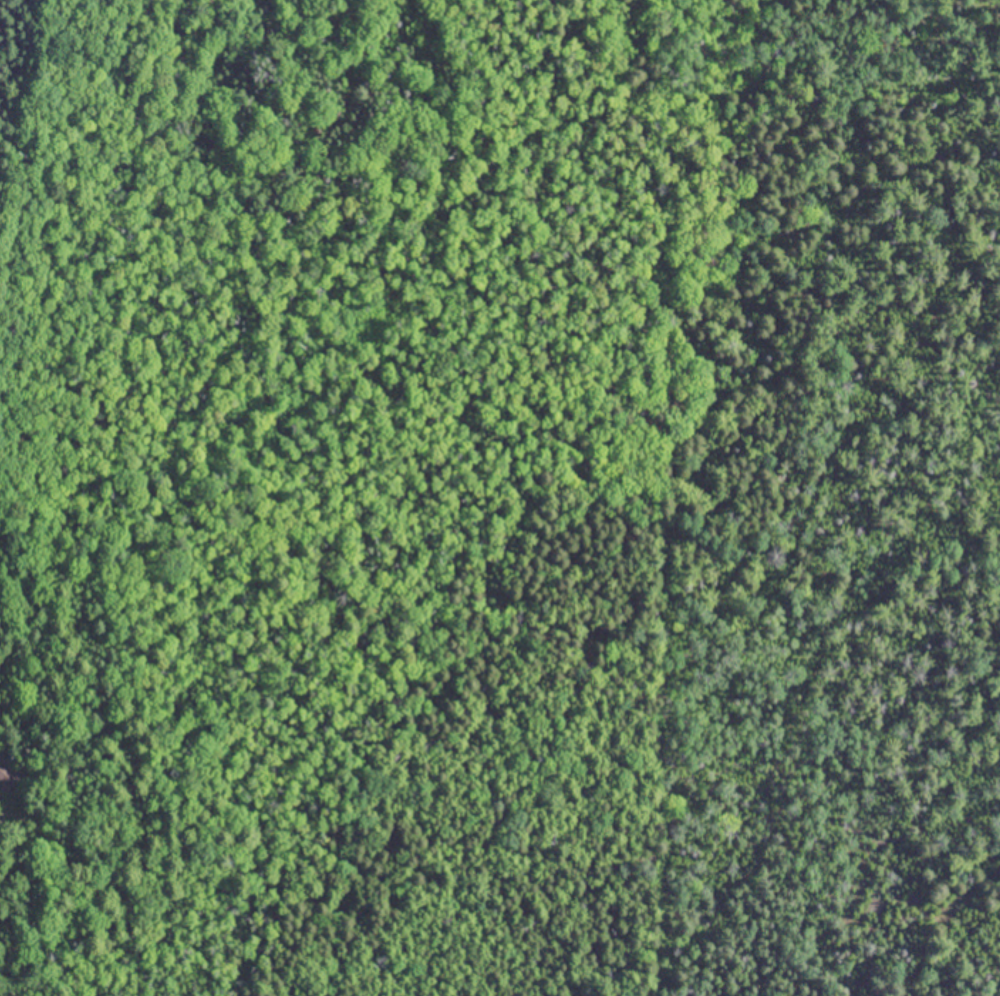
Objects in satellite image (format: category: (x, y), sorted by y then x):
building: (7, 774)

